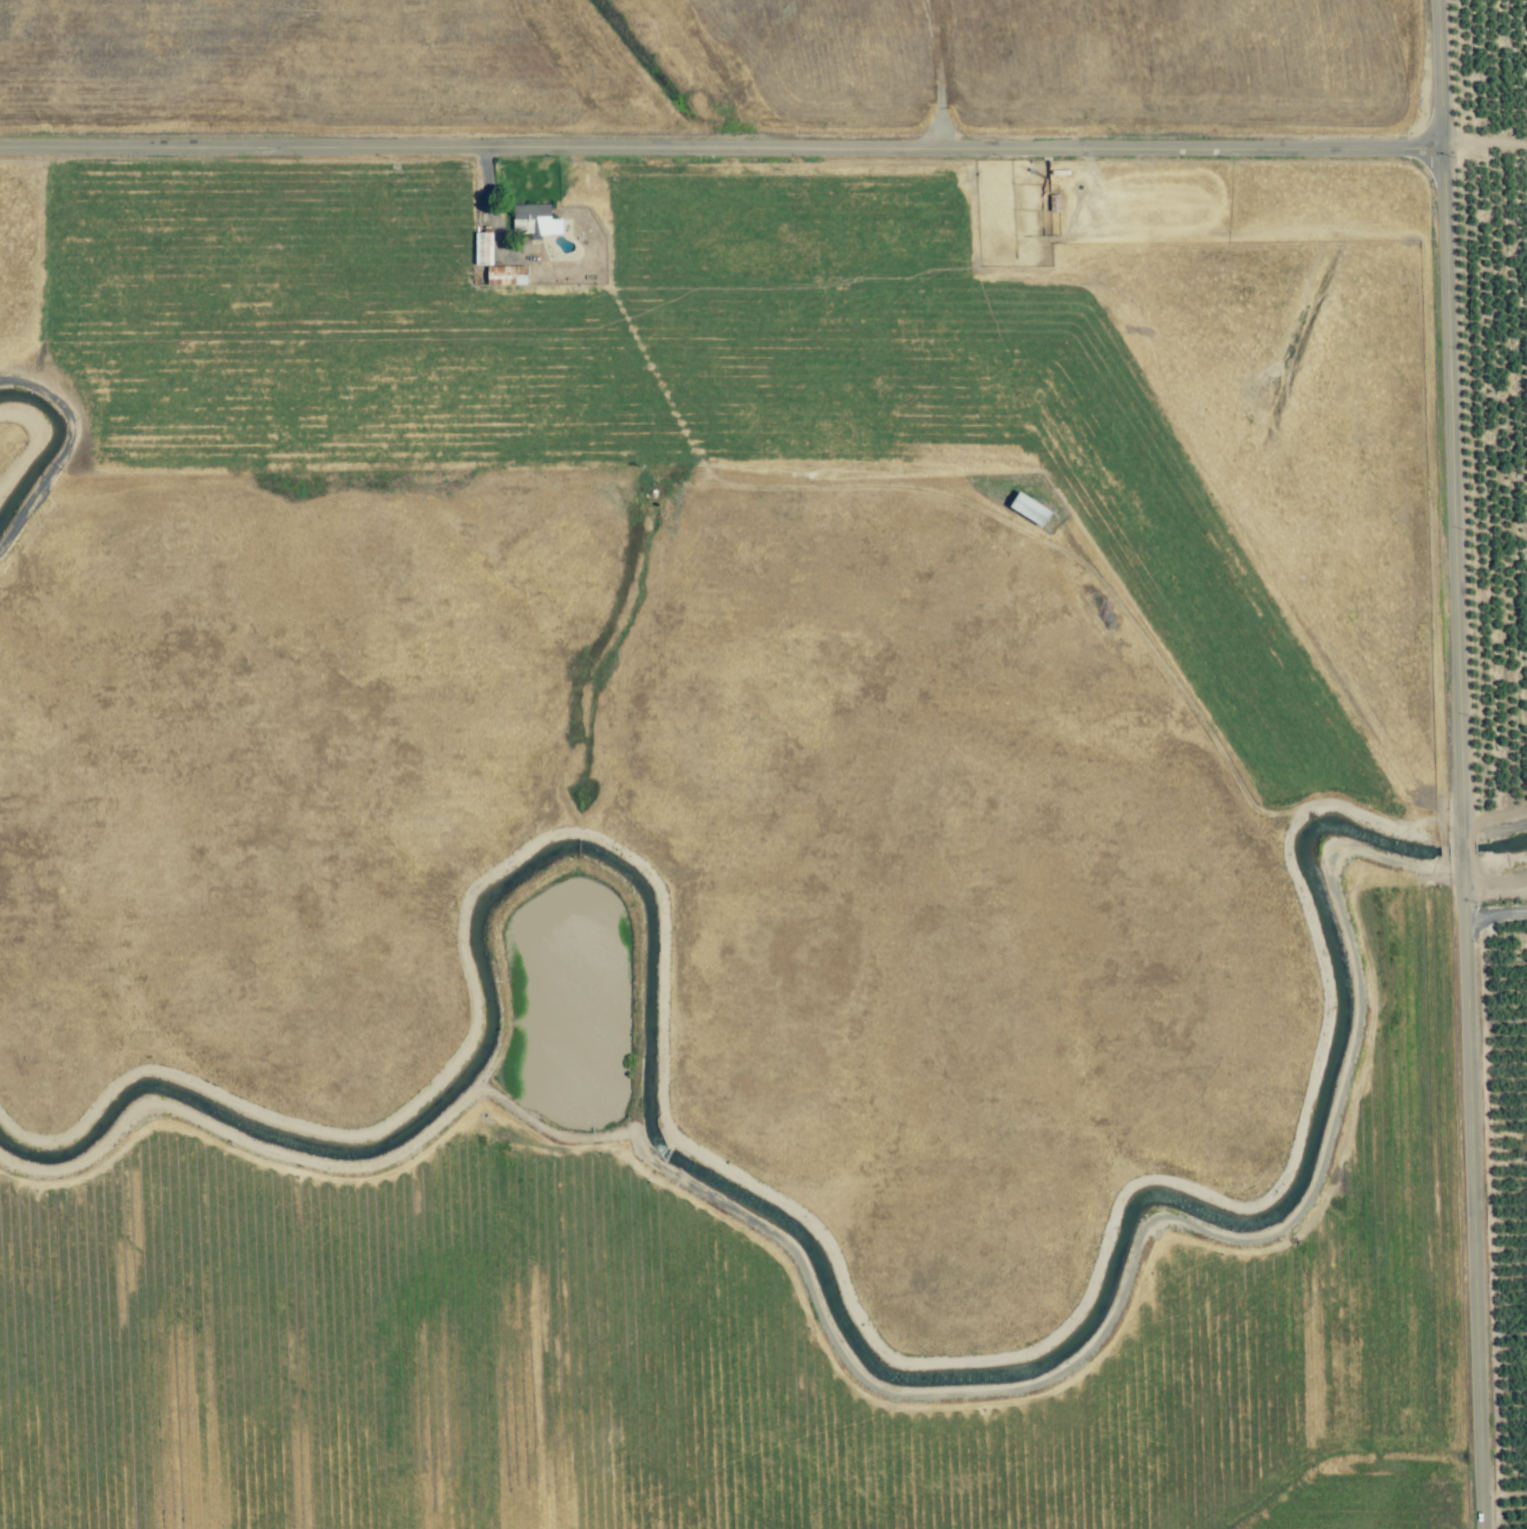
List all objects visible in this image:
road: (720, 144)
building: (1054, 204)
road: (488, 207)
building: (535, 221)
building: (483, 249)
river: (42, 439)
building: (1032, 510)
road: (1458, 764)
crop: (733, 890)
road: (1494, 914)
river: (787, 1236)

